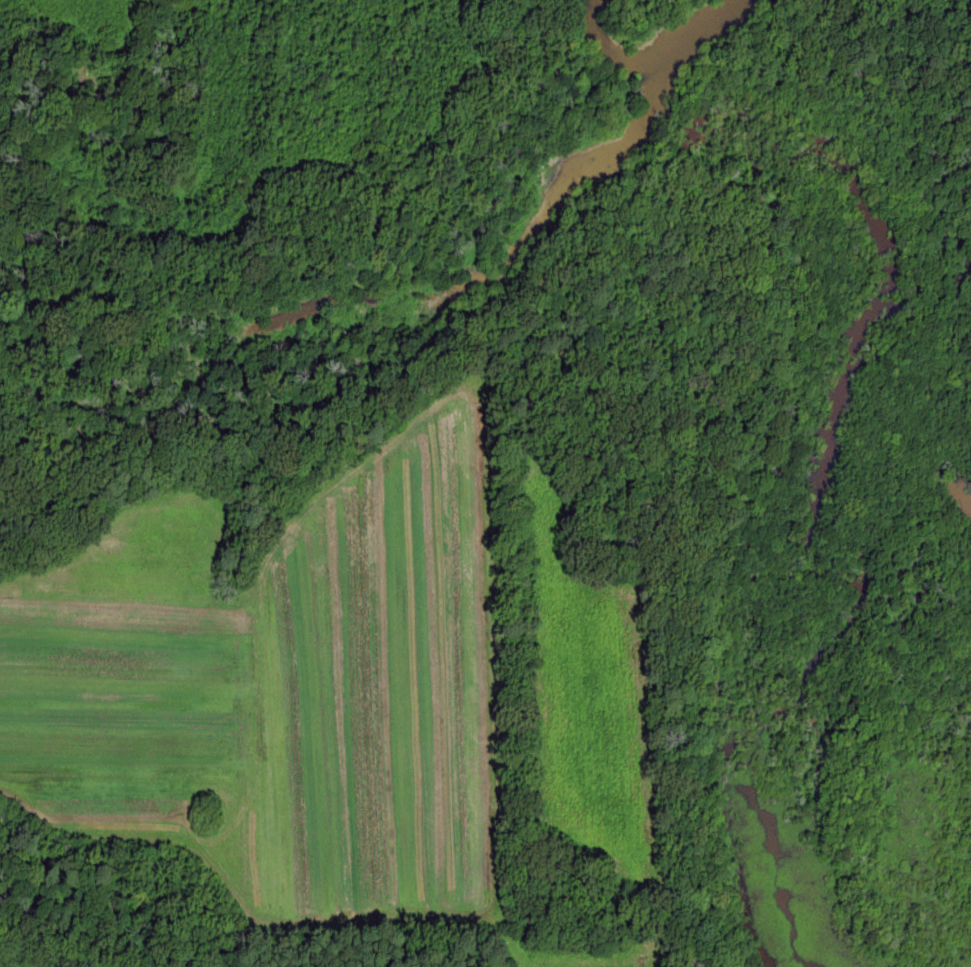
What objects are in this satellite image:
road: (149, 942)

